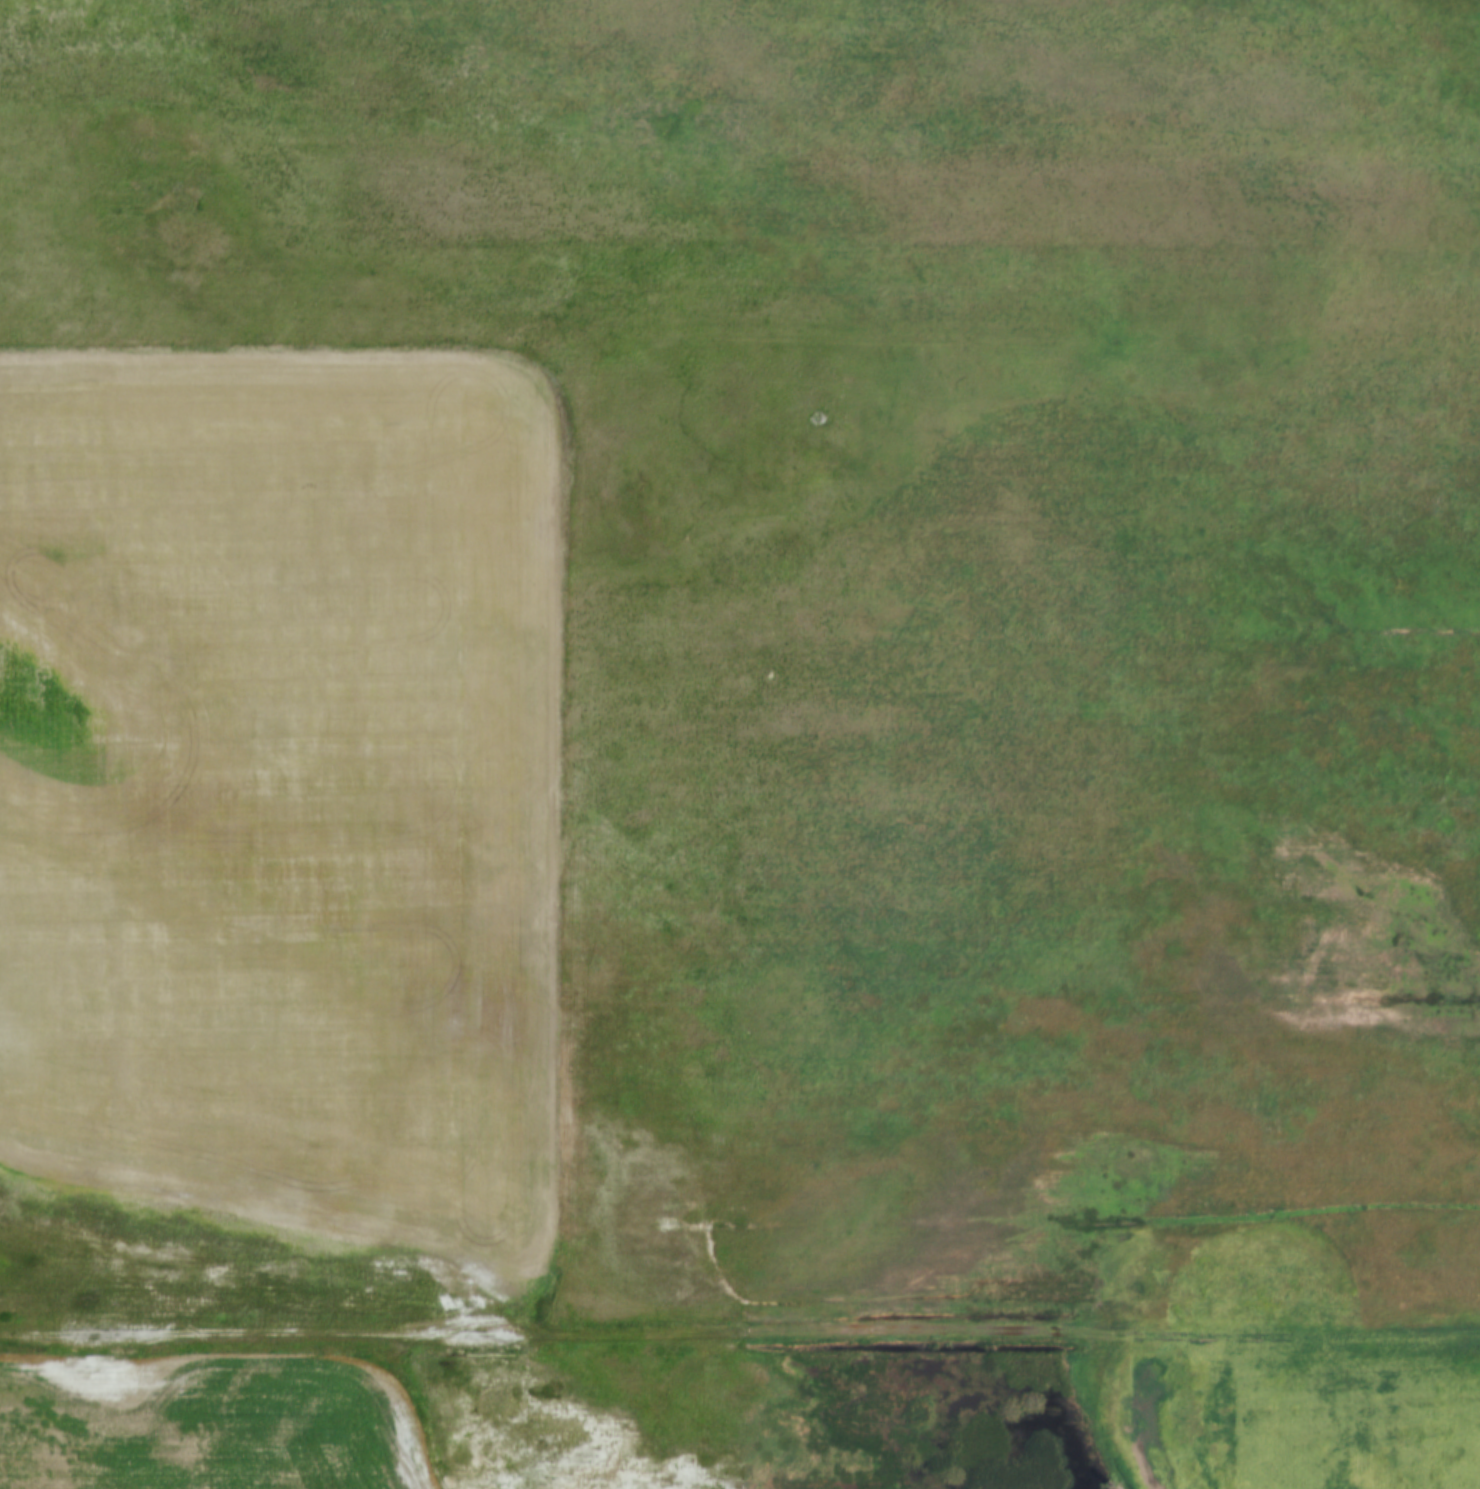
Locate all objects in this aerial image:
road: (739, 1335)

